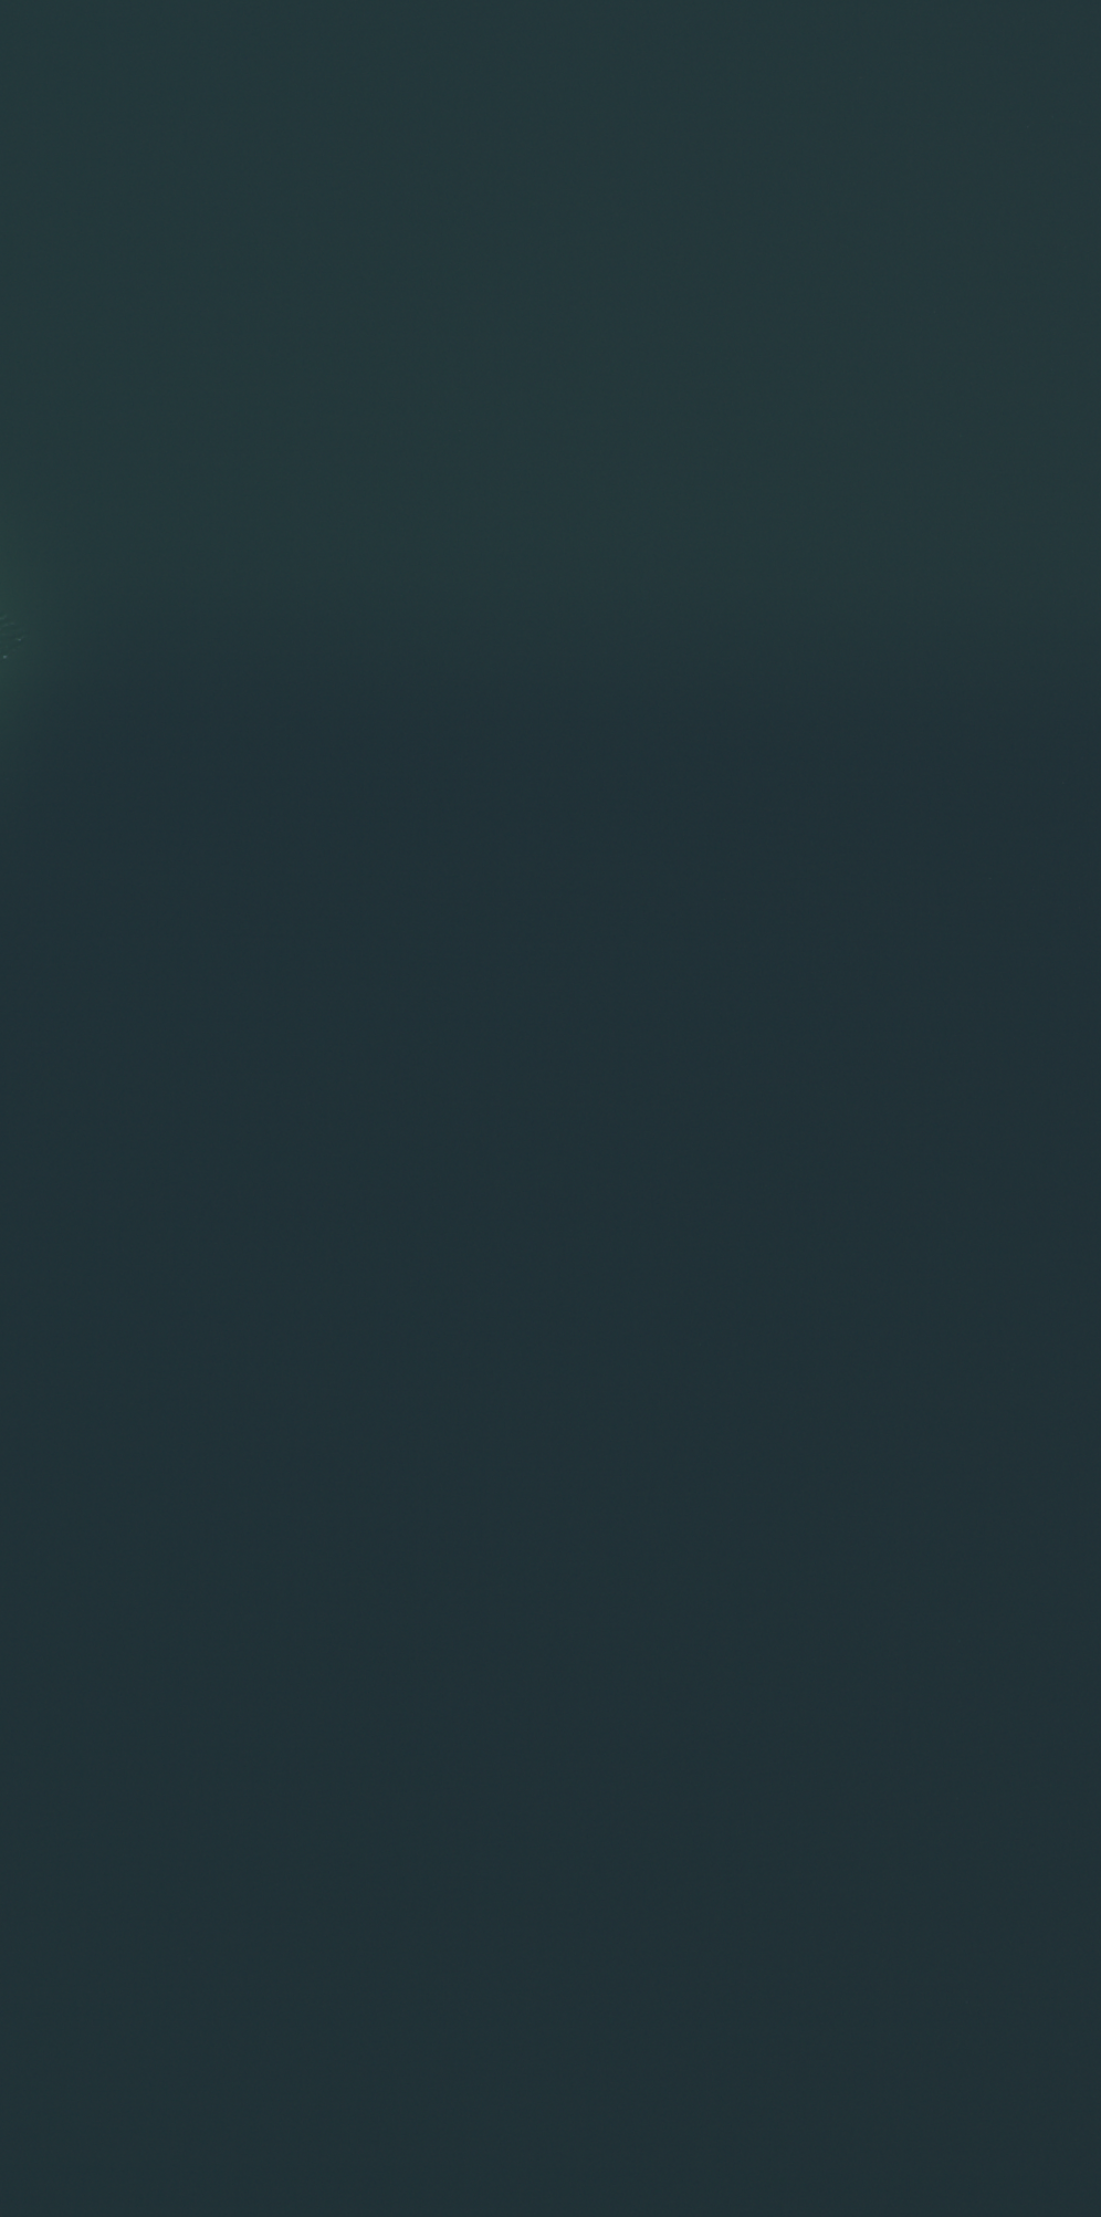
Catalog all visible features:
river: (975, 150)

